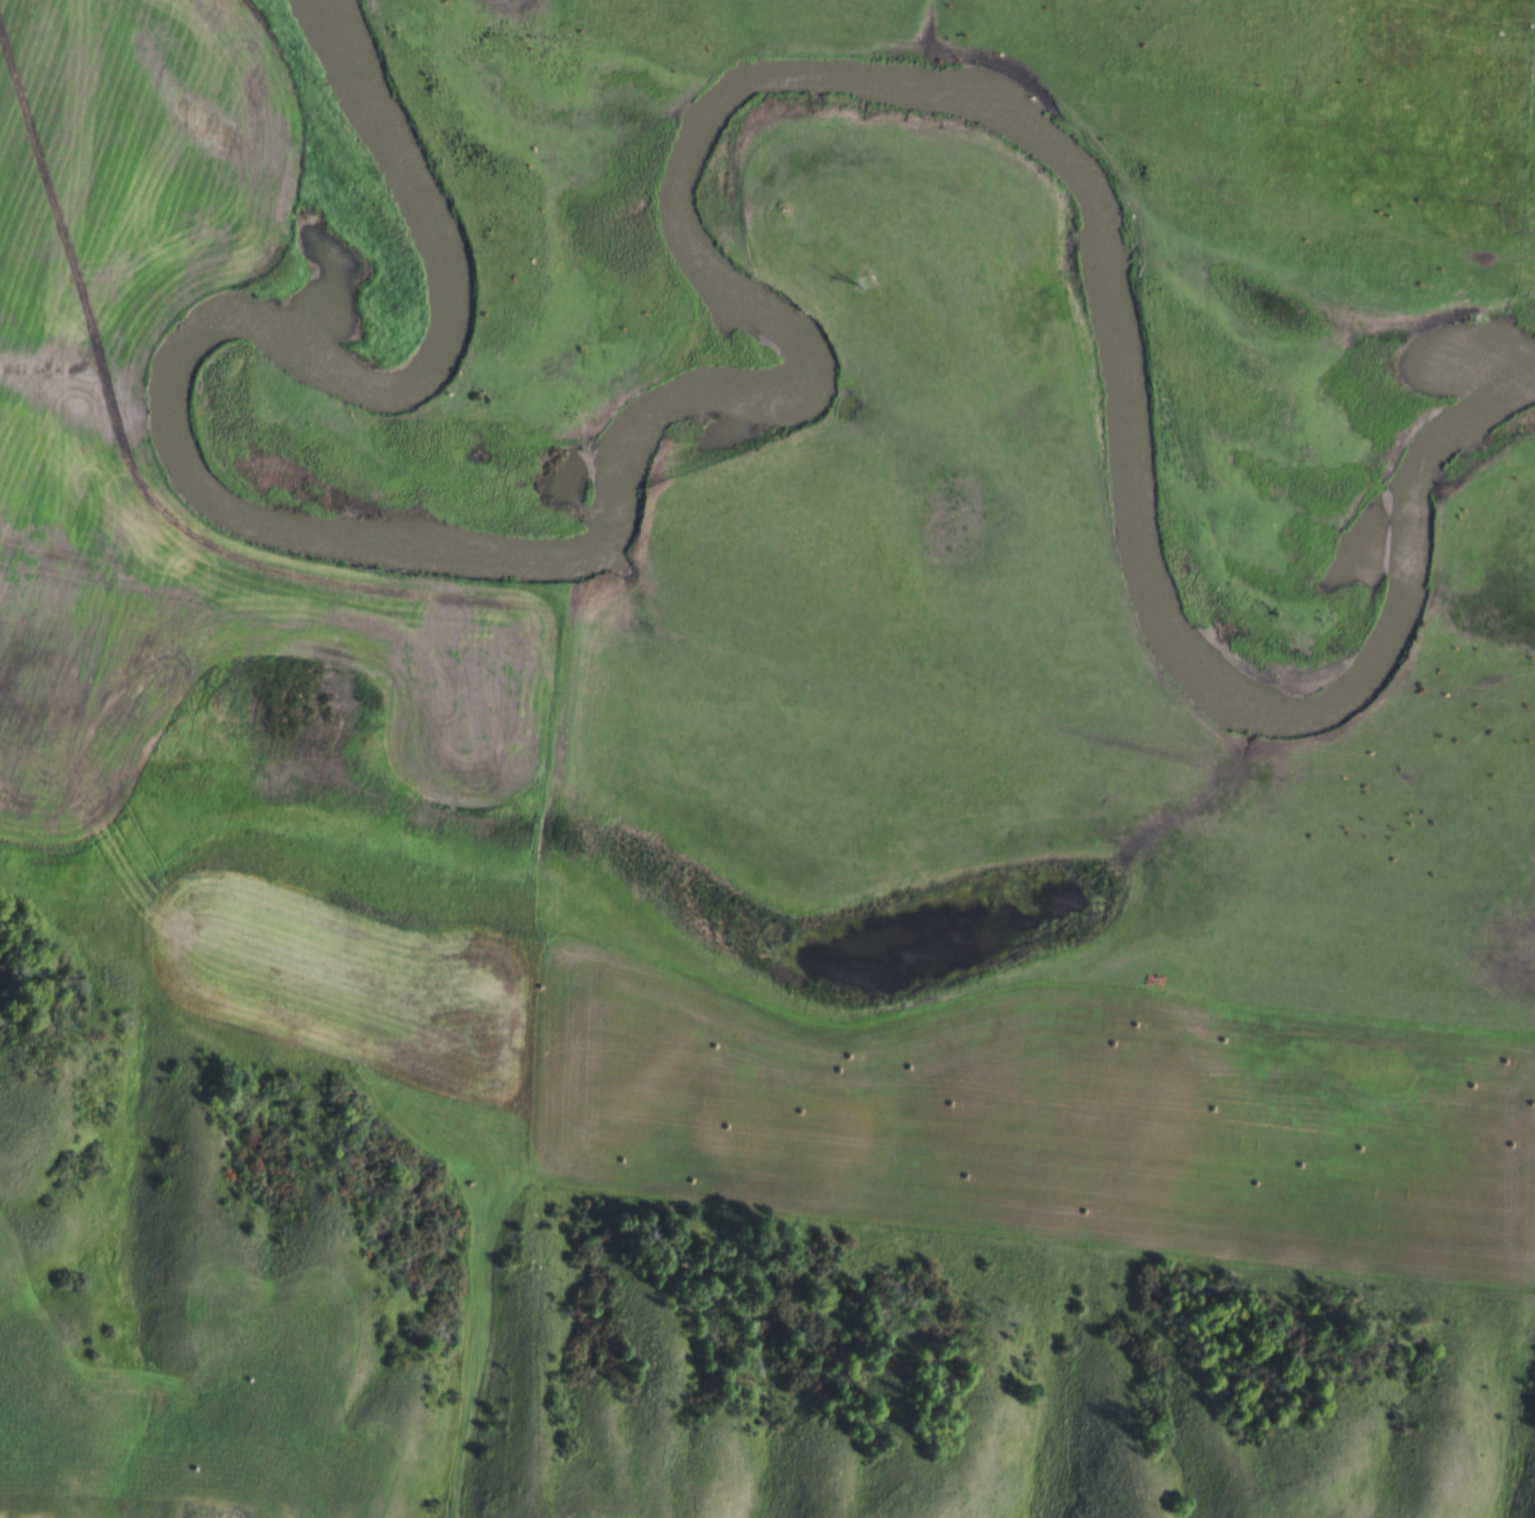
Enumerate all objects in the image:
river: (688, 214)
road: (1524, 1418)

